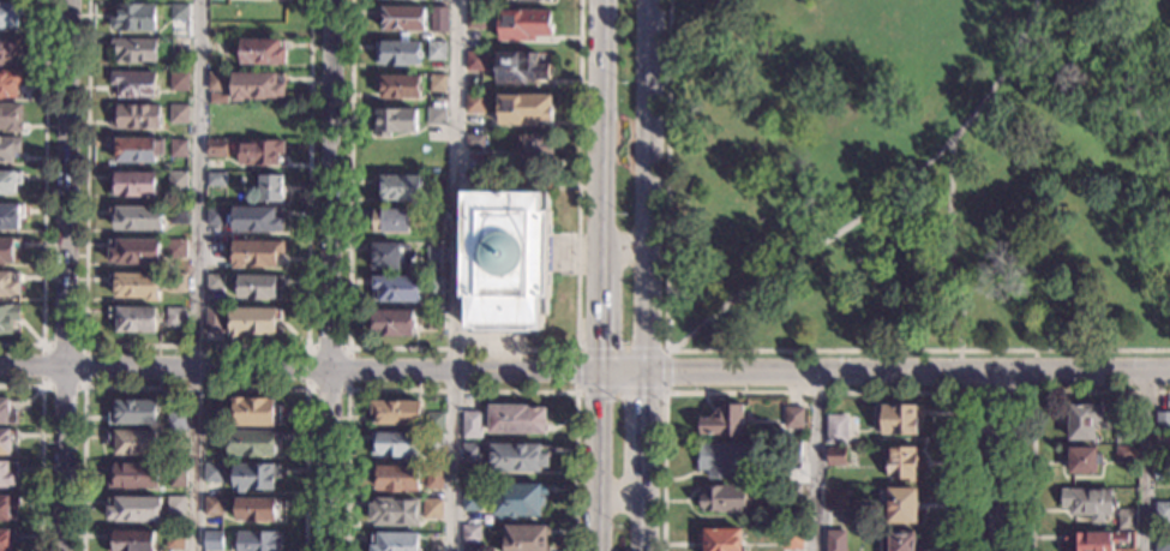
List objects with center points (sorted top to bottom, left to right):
building: (534, 0)
building: (479, 2)
building: (179, 12)
building: (11, 14)
building: (133, 17)
building: (401, 18)
building: (475, 19)
building: (439, 20)
building: (524, 25)
road: (1060, 31)
building: (217, 48)
building: (10, 49)
building: (133, 49)
building: (437, 50)
building: (263, 52)
building: (397, 54)
building: (475, 61)
building: (520, 68)
building: (179, 82)
building: (217, 82)
building: (10, 83)
building: (438, 83)
building: (133, 84)
building: (257, 86)
building: (397, 86)
road: (1129, 89)
building: (217, 97)
building: (474, 103)
building: (523, 108)
building: (179, 114)
building: (136, 116)
building: (436, 116)
building: (11, 118)
building: (395, 121)
building: (474, 142)
building: (179, 148)
building: (217, 148)
building: (535, 148)
building: (8, 149)
building: (136, 149)
building: (436, 151)
building: (259, 152)
building: (394, 155)
park: (914, 178)
building: (216, 179)
building: (10, 181)
building: (178, 181)
building: (132, 185)
road: (598, 185)
building: (436, 186)
building: (398, 187)
building: (271, 188)
road: (43, 193)
road: (881, 204)
building: (178, 215)
building: (11, 216)
building: (216, 217)
building: (137, 218)
building: (434, 218)
building: (257, 220)
building: (391, 221)
road: (952, 247)
building: (176, 248)
road: (620, 248)
building: (6, 251)
building: (136, 252)
building: (256, 253)
building: (434, 254)
building: (389, 257)
building: (505, 260)
road: (64, 275)
road: (198, 275)
road: (330, 275)
road: (454, 275)
road: (642, 275)
building: (176, 282)
building: (10, 283)
building: (215, 283)
building: (136, 286)
building: (256, 287)
building: (436, 287)
building: (396, 289)
building: (175, 317)
building: (8, 318)
building: (134, 319)
building: (214, 321)
building: (253, 322)
building: (436, 322)
building: (392, 323)
traffic signals: (600, 345)
road: (198, 346)
road: (462, 351)
road: (742, 351)
road: (319, 369)
traffic signals: (570, 371)
traffic signals: (671, 371)
road: (816, 371)
road: (1080, 371)
road: (85, 385)
road: (193, 387)
road: (306, 389)
road: (460, 390)
road: (576, 393)
road: (812, 393)
road: (996, 393)
traffic signals: (641, 397)
road: (1032, 402)
building: (7, 413)
building: (132, 413)
building: (256, 413)
building: (395, 413)
building: (793, 418)
building: (212, 419)
building: (516, 419)
building: (899, 419)
building: (176, 420)
building: (434, 421)
building: (724, 421)
building: (1084, 421)
building: (1163, 421)
building: (472, 425)
building: (836, 430)
building: (1126, 432)
building: (212, 439)
building: (1163, 439)
building: (6, 441)
building: (175, 441)
building: (132, 442)
building: (253, 443)
building: (434, 443)
building: (394, 444)
road: (41, 448)
building: (470, 453)
building: (791, 453)
building: (1126, 454)
building: (518, 457)
building: (836, 457)
building: (722, 459)
road: (598, 460)
road: (816, 460)
building: (1084, 460)
road: (992, 461)
road: (1146, 461)
building: (900, 463)
building: (214, 473)
building: (7, 474)
building: (1162, 474)
building: (132, 475)
building: (176, 475)
building: (254, 478)
building: (396, 478)
building: (433, 478)
road: (619, 492)
building: (791, 493)
building: (470, 497)
building: (516, 499)
building: (724, 499)
building: (839, 499)
building: (1088, 503)
building: (898, 504)
building: (175, 505)
building: (212, 507)
building: (6, 508)
building: (133, 509)
building: (432, 509)
building: (256, 510)
building: (395, 513)
building: (1163, 513)
building: (1127, 519)
building: (470, 535)
building: (524, 538)
building: (7, 539)
building: (720, 539)
building: (792, 539)
building: (174, 540)
building: (836, 540)
building: (1102, 540)
building: (131, 541)
building: (211, 541)
building: (254, 541)
building: (394, 541)
building: (899, 541)
building: (1162, 543)

